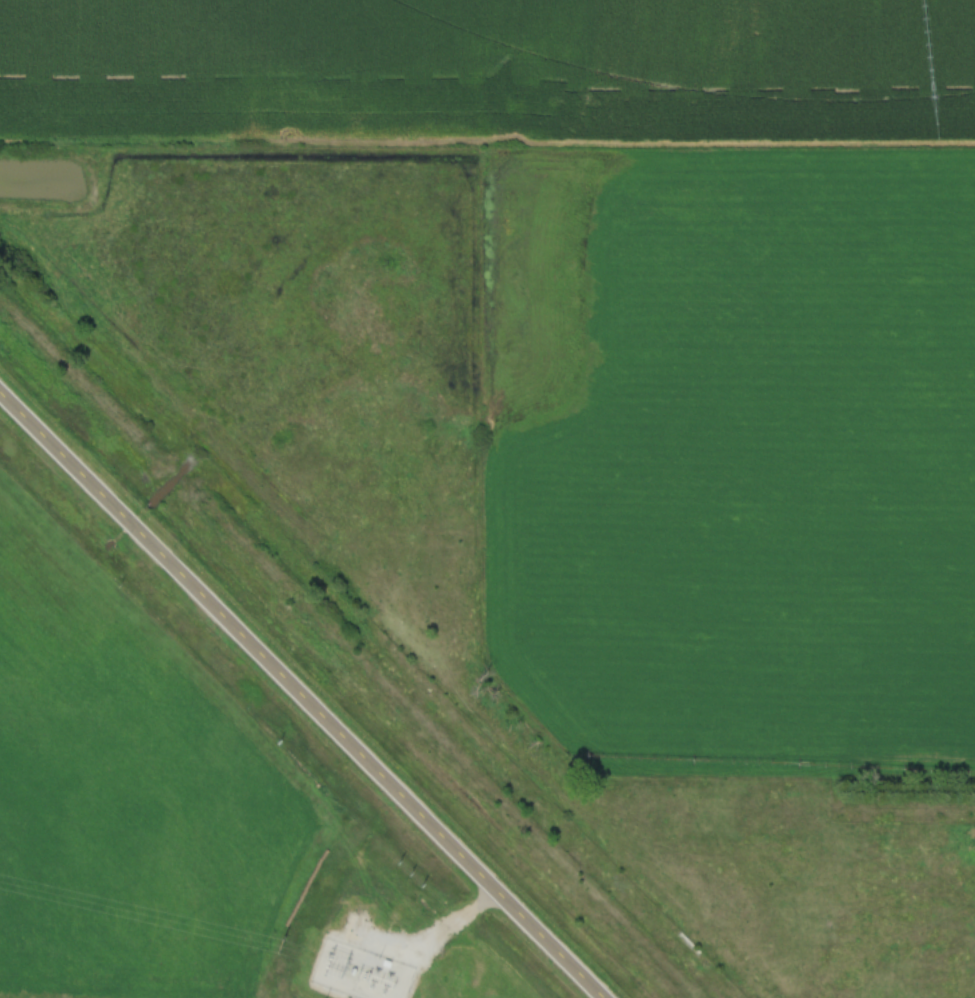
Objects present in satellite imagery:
road: (302, 695)
road: (439, 936)
power tower: (282, 943)
power tower: (329, 958)
power tower: (345, 962)
power substation: (363, 971)

